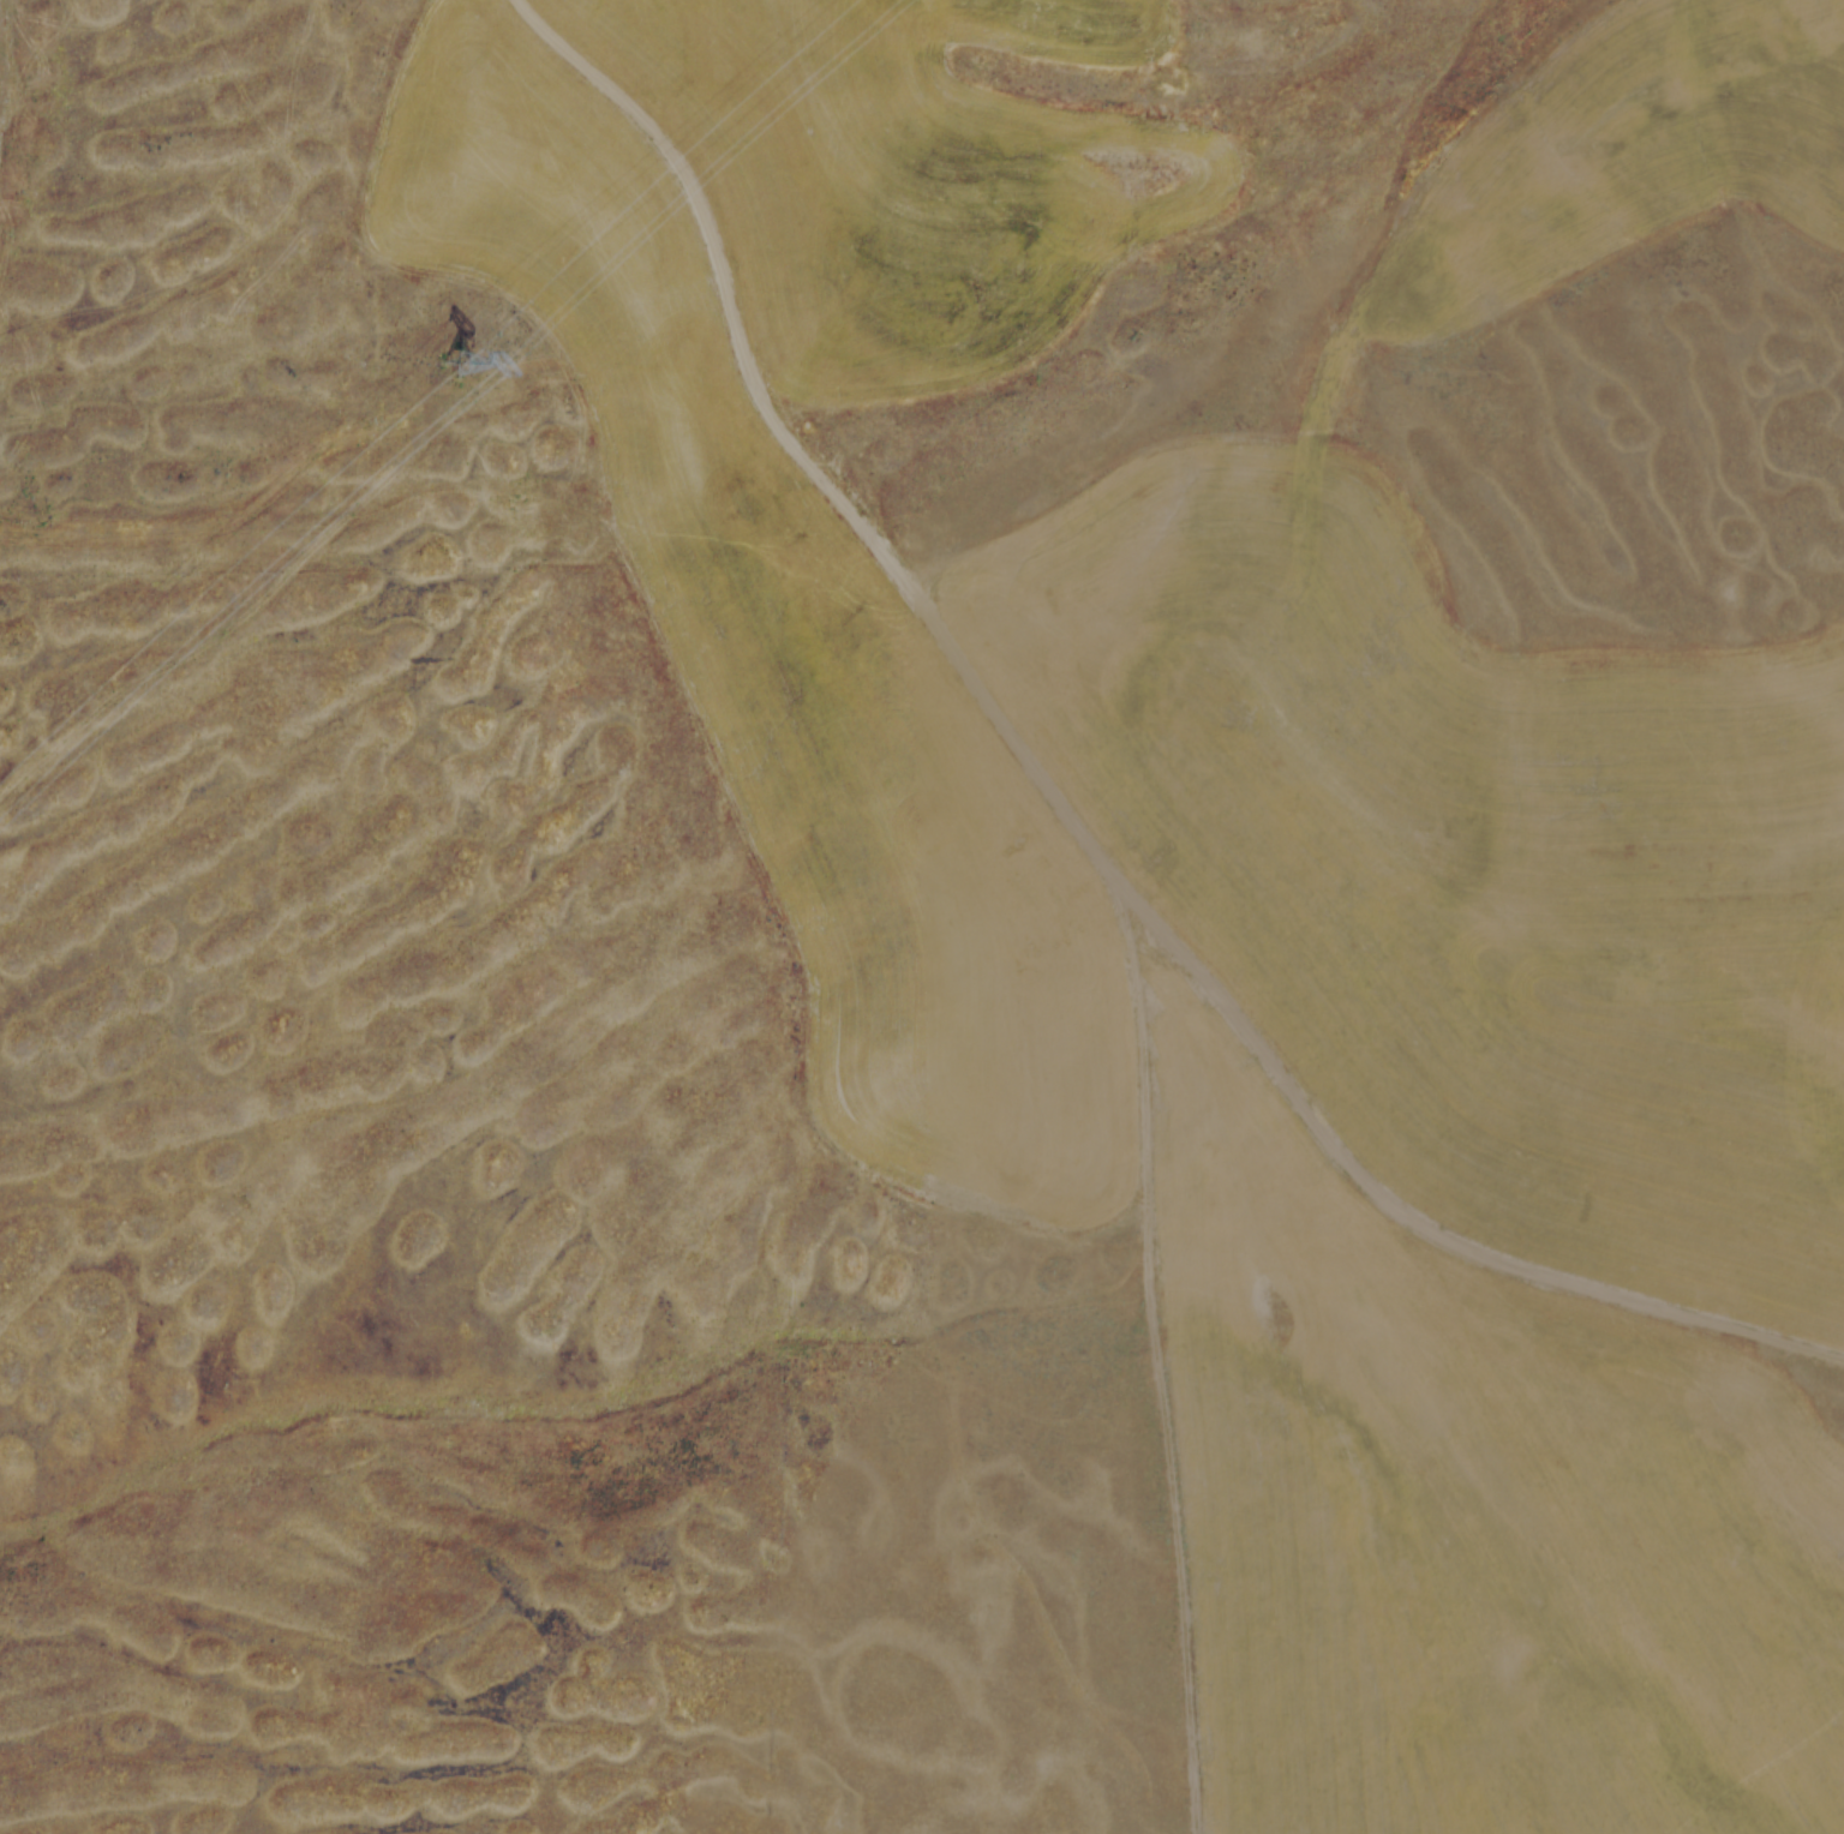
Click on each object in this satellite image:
power tower: (456, 361)

